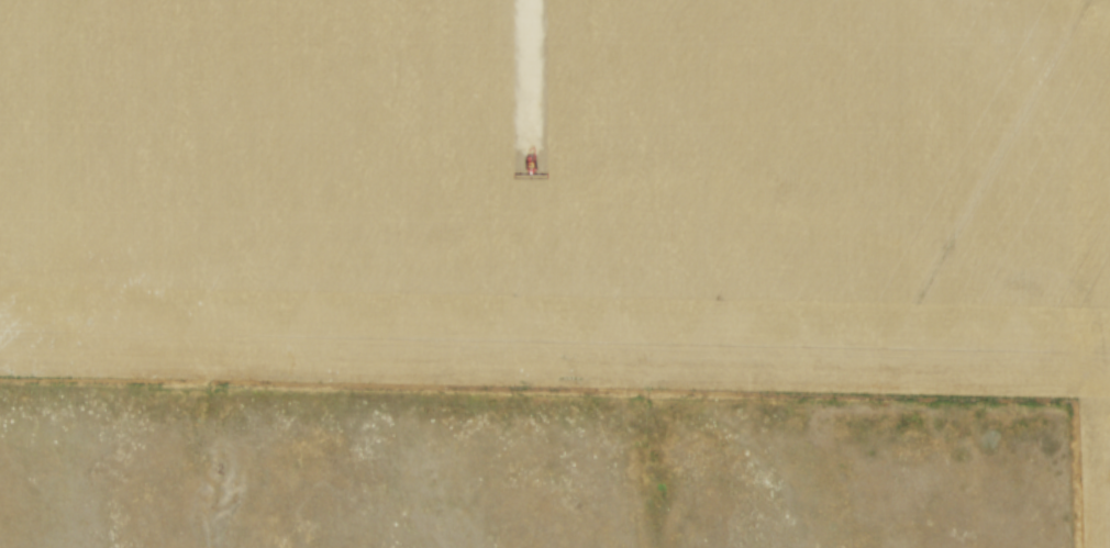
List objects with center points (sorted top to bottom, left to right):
crop: (568, 199)

